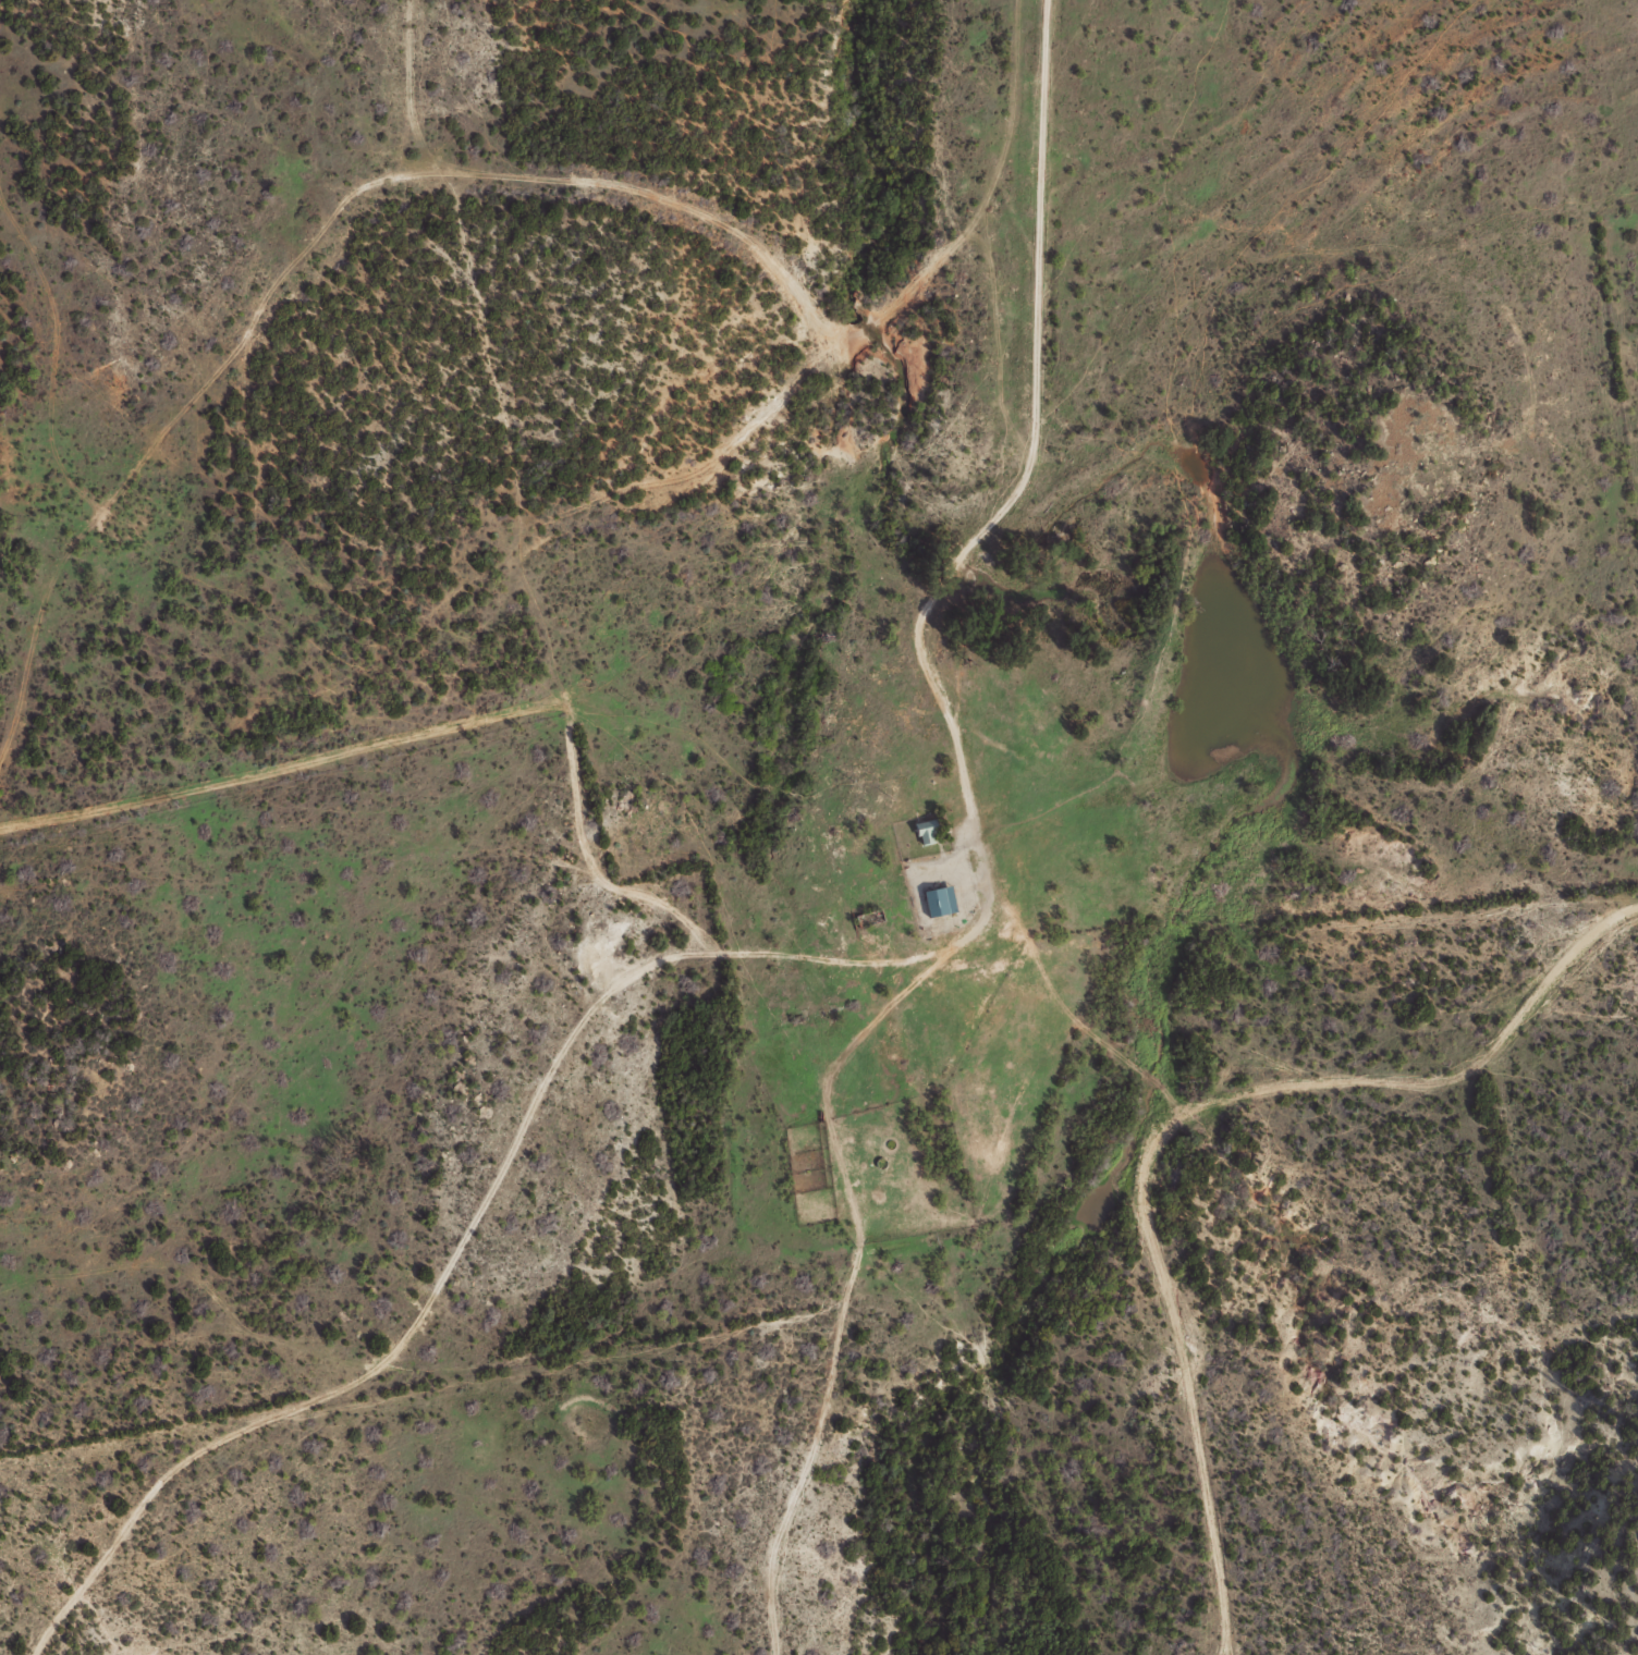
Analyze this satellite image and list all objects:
road: (771, 268)
road: (379, 692)
road: (234, 821)
building: (928, 831)
road: (980, 833)
building: (941, 900)
road: (1371, 958)
road: (424, 1352)

